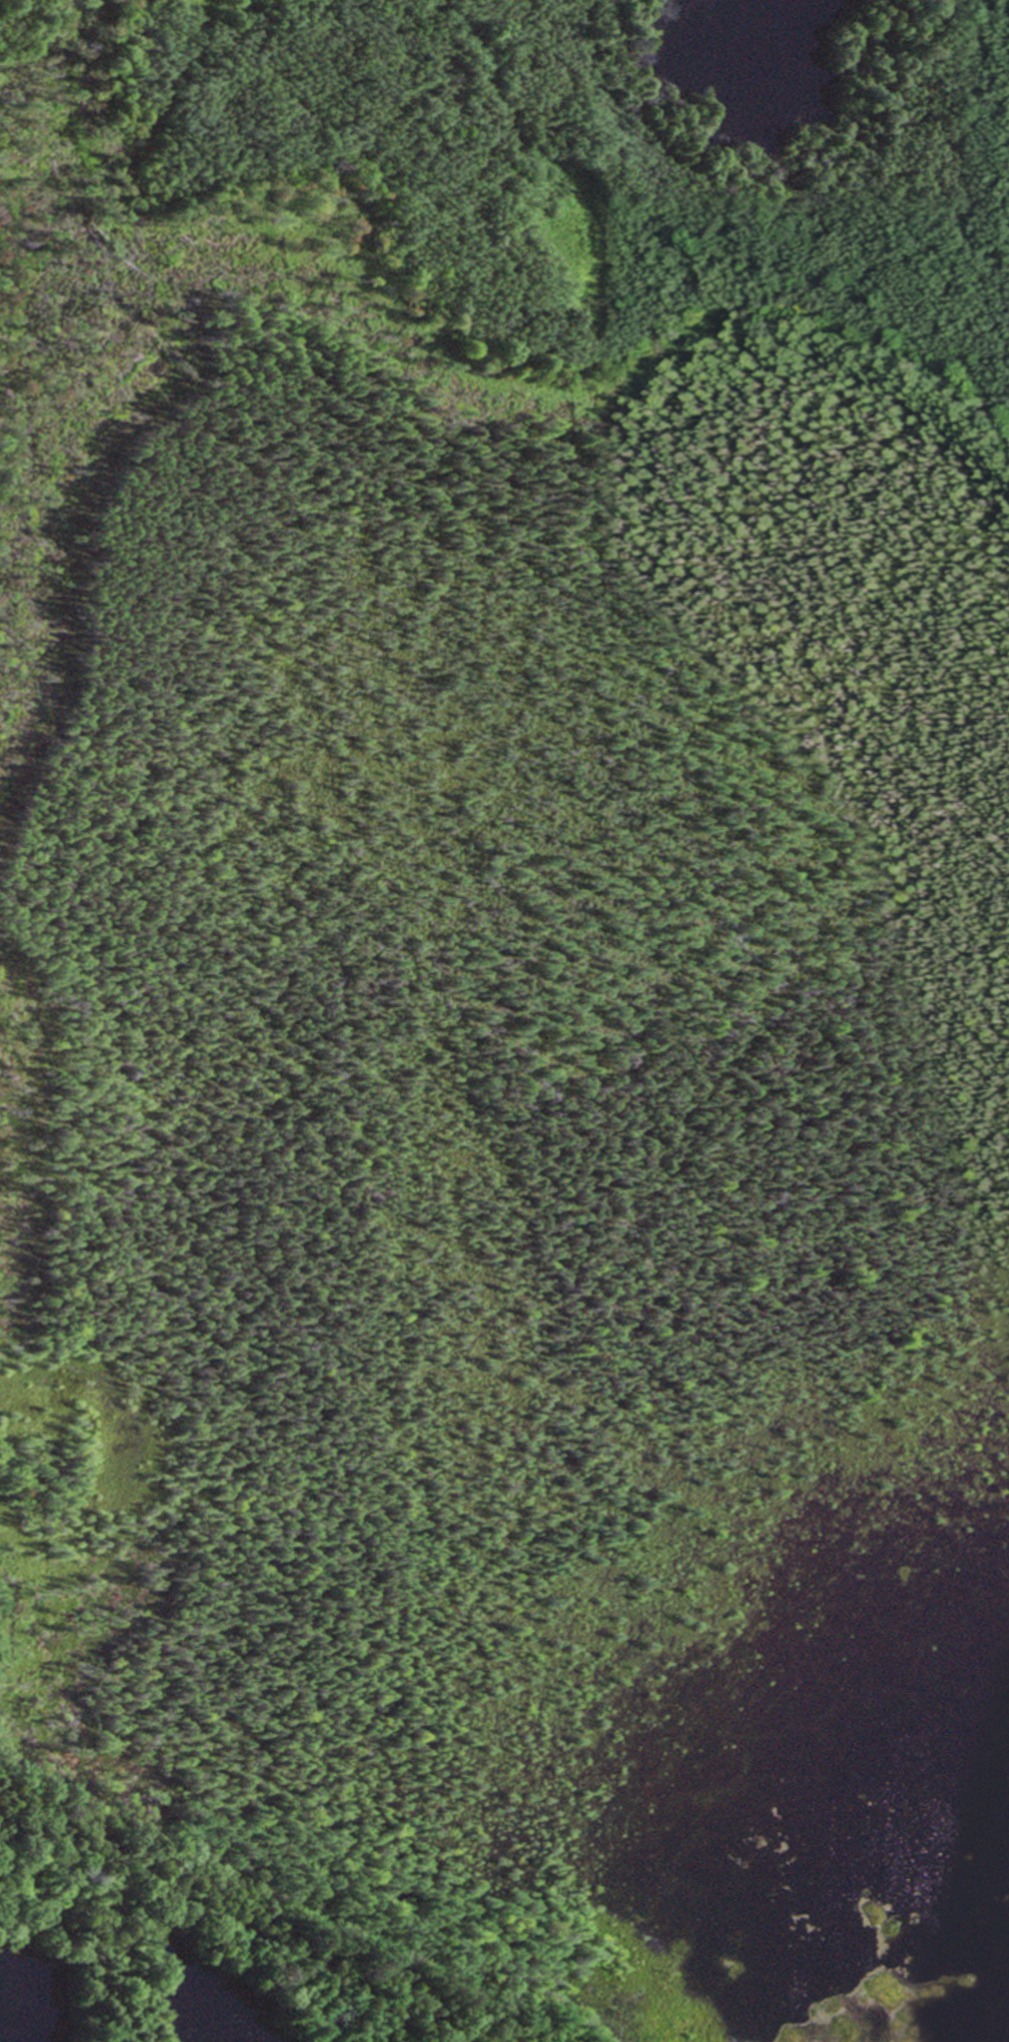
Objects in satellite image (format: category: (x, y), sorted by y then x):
road: (253, 1933)
road: (93, 1946)

